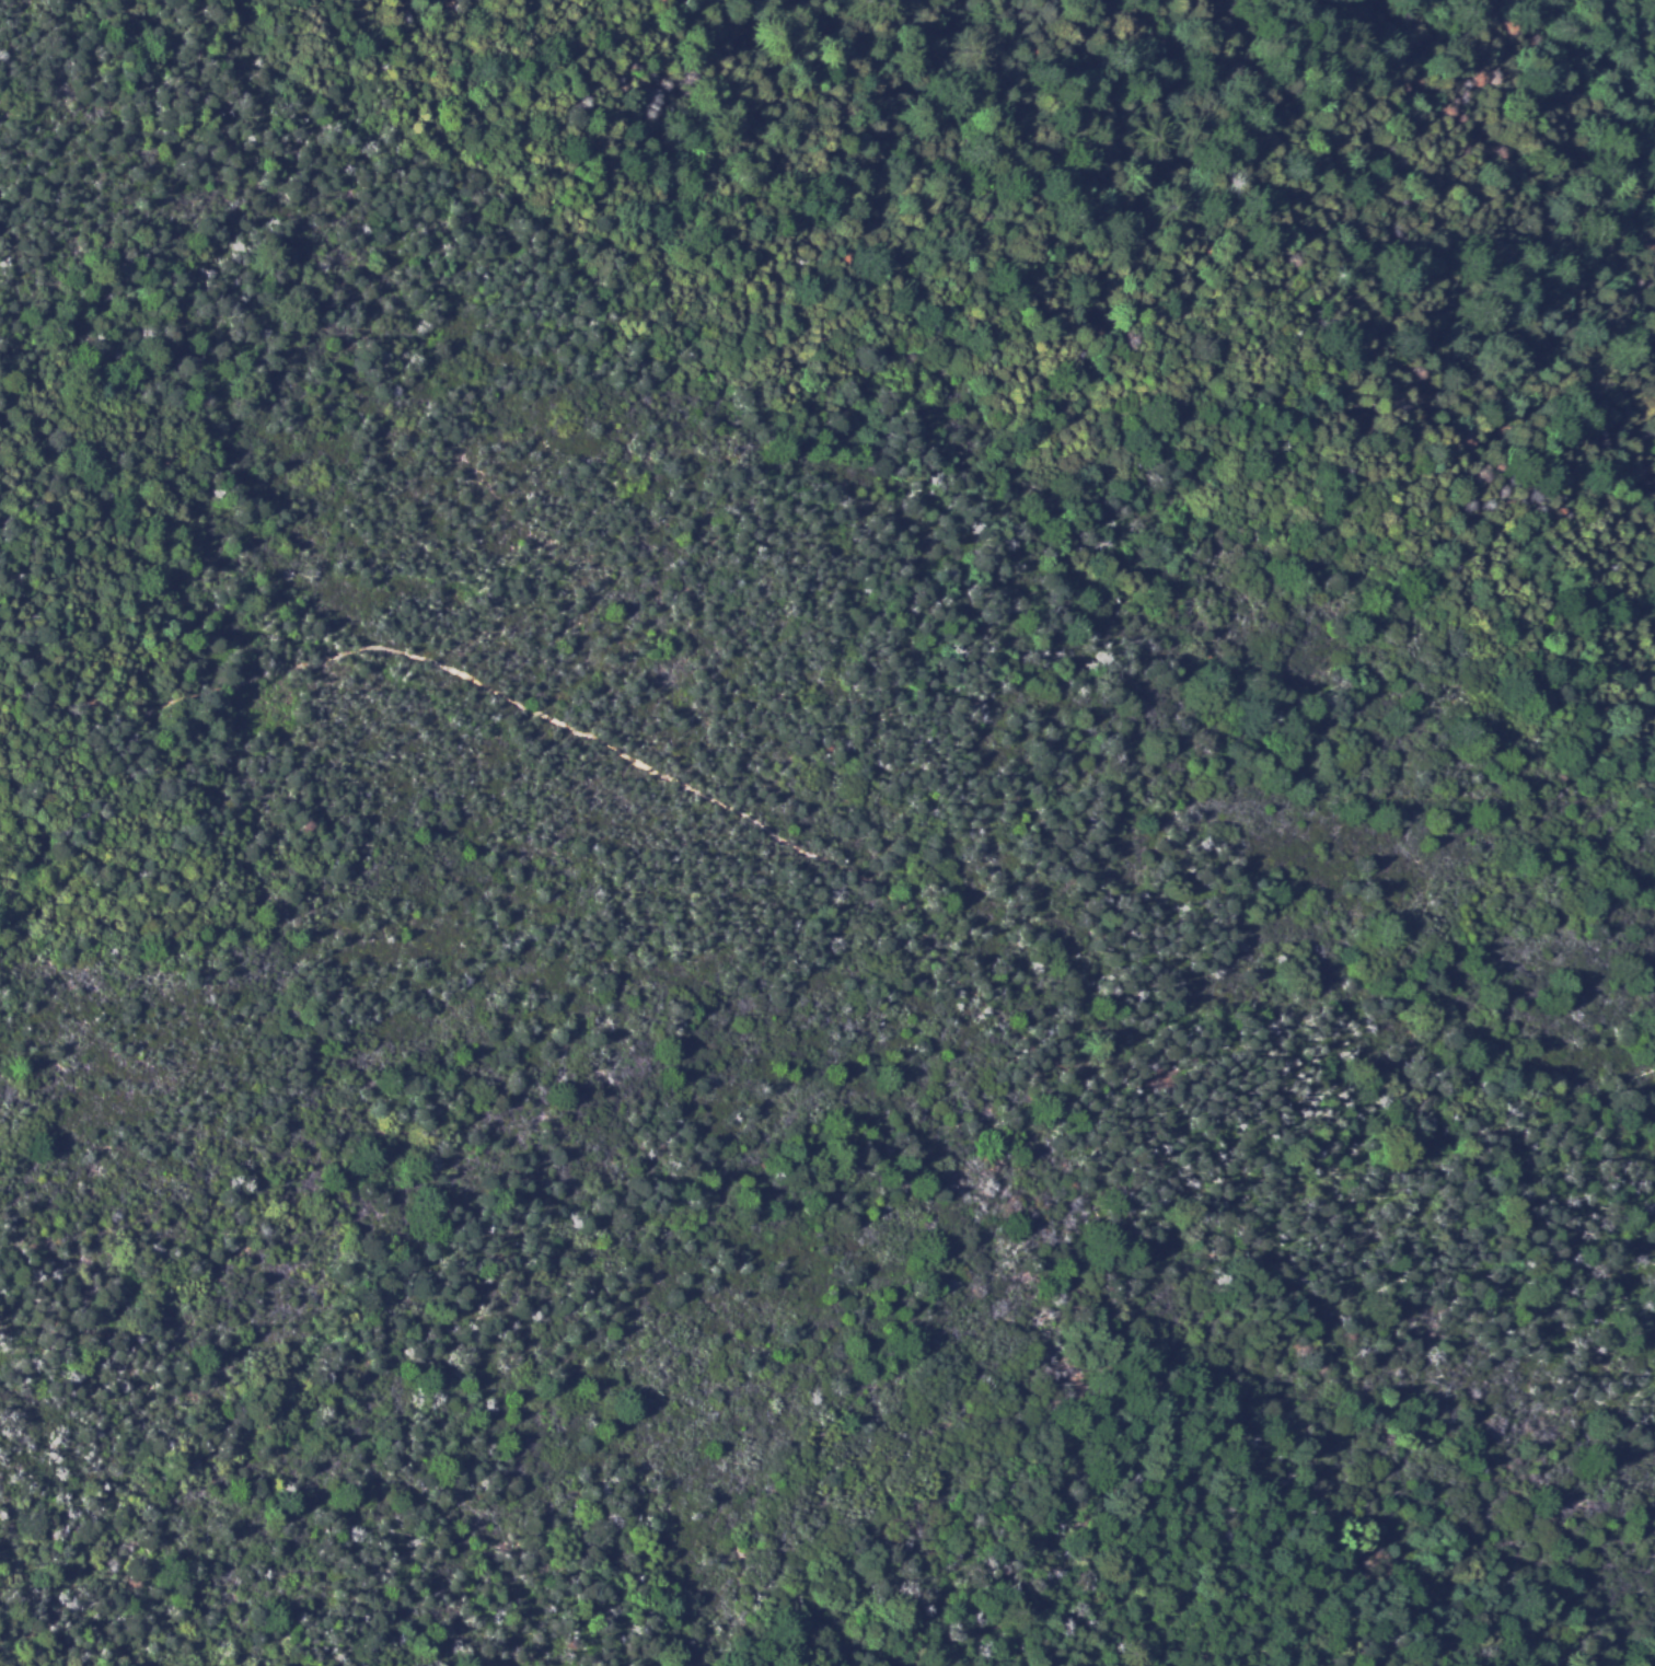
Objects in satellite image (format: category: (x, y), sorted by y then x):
road: (927, 938)

